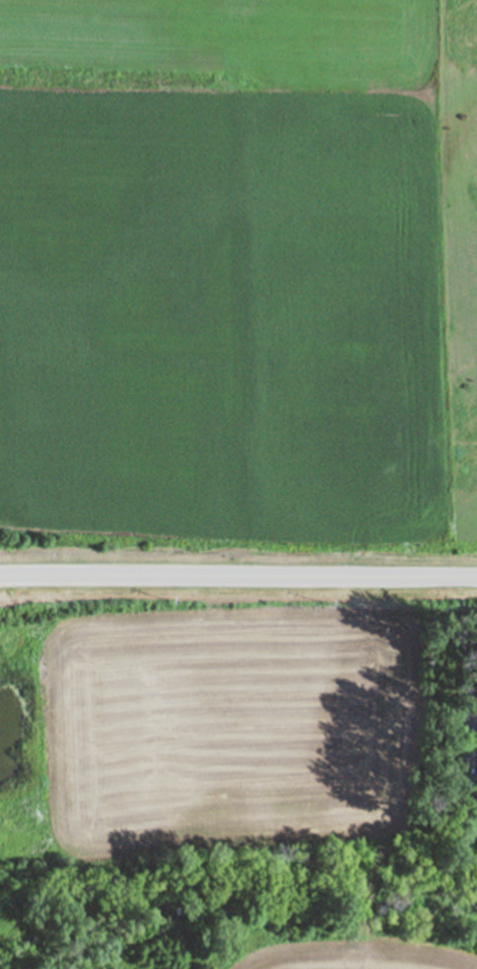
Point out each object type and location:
road: (238, 573)
building: (468, 719)
building: (467, 756)

